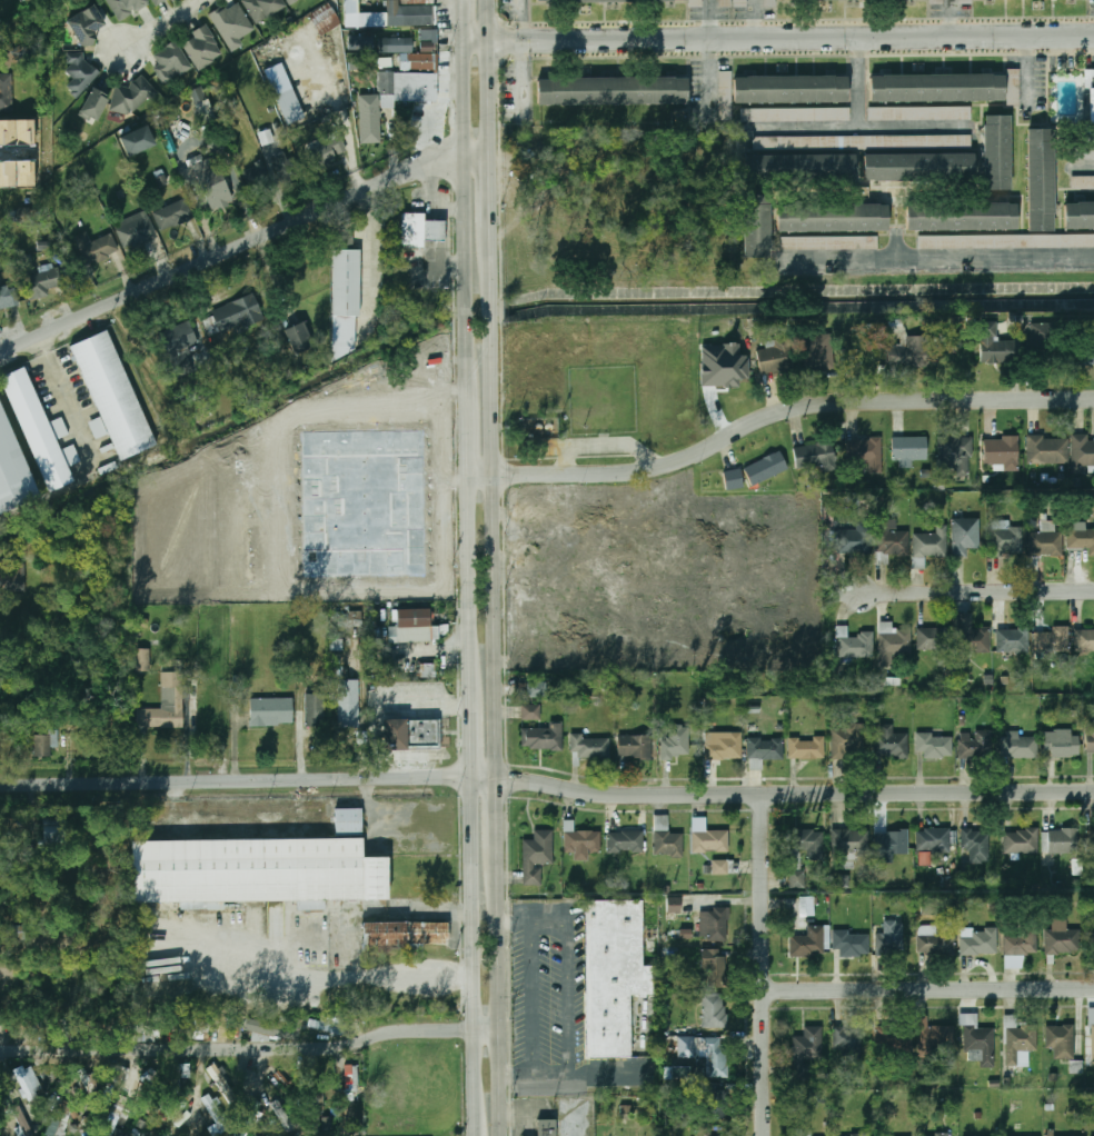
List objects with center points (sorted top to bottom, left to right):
building: (586, 0)
building: (290, 1)
building: (696, 1)
building: (965, 1)
building: (770, 2)
building: (725, 3)
building: (126, 7)
building: (262, 8)
building: (409, 13)
building: (325, 19)
road: (709, 19)
road: (755, 19)
road: (463, 20)
building: (232, 23)
building: (86, 26)
road: (162, 26)
road: (778, 38)
building: (360, 42)
building: (202, 48)
building: (171, 62)
road: (490, 71)
building: (80, 74)
building: (400, 80)
building: (724, 86)
building: (1013, 87)
building: (937, 88)
building: (790, 89)
building: (613, 90)
building: (285, 93)
building: (198, 94)
building: (132, 96)
building: (1090, 102)
building: (4, 103)
building: (95, 103)
building: (919, 113)
building: (796, 114)
road: (862, 126)
road: (810, 127)
building: (136, 140)
building: (949, 140)
road: (9, 152)
building: (326, 152)
building: (997, 152)
building: (1086, 153)
road: (1085, 165)
building: (799, 167)
building: (918, 167)
building: (288, 168)
building: (257, 178)
building: (1041, 180)
building: (1083, 182)
building: (215, 187)
road: (491, 192)
road: (457, 209)
road: (467, 211)
building: (172, 215)
building: (1080, 215)
building: (962, 216)
building: (833, 218)
road: (447, 220)
building: (756, 226)
building: (419, 229)
building: (136, 230)
building: (344, 240)
building: (1005, 241)
building: (829, 242)
road: (243, 243)
building: (97, 248)
road: (962, 252)
road: (372, 256)
building: (43, 282)
building: (346, 296)
building: (8, 297)
building: (236, 313)
building: (181, 336)
building: (298, 338)
building: (1042, 342)
building: (994, 347)
building: (817, 350)
building: (911, 351)
building: (1083, 353)
building: (776, 357)
building: (728, 372)
building: (113, 396)
road: (775, 412)
building: (37, 429)
road: (467, 429)
road: (608, 439)
building: (909, 448)
building: (1047, 449)
building: (865, 451)
building: (1002, 452)
building: (1082, 454)
building: (956, 455)
building: (816, 456)
road: (567, 457)
building: (766, 468)
building: (12, 472)
building: (734, 479)
road: (497, 508)
building: (964, 535)
building: (1080, 537)
building: (891, 538)
building: (1006, 538)
building: (854, 540)
building: (931, 542)
building: (1045, 542)
road: (469, 575)
building: (12, 577)
road: (975, 590)
building: (411, 626)
building: (972, 635)
building: (894, 639)
building: (934, 639)
building: (1013, 639)
building: (1053, 639)
building: (1085, 639)
building: (855, 642)
building: (141, 659)
building: (428, 670)
building: (531, 690)
building: (165, 705)
building: (348, 705)
building: (316, 709)
building: (271, 711)
building: (530, 711)
road: (473, 724)
building: (410, 735)
building: (545, 737)
building: (1090, 739)
building: (676, 740)
building: (847, 740)
building: (891, 744)
building: (976, 744)
building: (1062, 744)
building: (42, 745)
building: (591, 746)
building: (634, 746)
building: (935, 746)
building: (1018, 746)
building: (720, 748)
building: (766, 748)
building: (806, 748)
road: (250, 777)
road: (796, 793)
road: (500, 818)
building: (349, 820)
building: (54, 836)
building: (668, 837)
building: (933, 839)
building: (1092, 839)
building: (1062, 840)
building: (581, 841)
building: (627, 841)
building: (710, 841)
building: (892, 841)
building: (1023, 841)
building: (977, 843)
building: (851, 844)
building: (803, 851)
building: (537, 856)
building: (720, 867)
building: (256, 874)
building: (674, 905)
building: (806, 906)
building: (715, 924)
building: (402, 936)
building: (892, 936)
building: (1061, 938)
building: (809, 941)
building: (851, 941)
building: (934, 941)
building: (1021, 941)
building: (979, 943)
building: (1091, 943)
road: (286, 946)
road: (475, 949)
road: (764, 965)
building: (714, 968)
building: (615, 969)
road: (929, 987)
parking lot: (550, 990)
road: (570, 994)
road: (533, 995)
road: (501, 998)
building: (714, 1010)
building: (265, 1026)
building: (150, 1032)
road: (488, 1032)
building: (1092, 1036)
building: (934, 1037)
building: (894, 1038)
building: (1061, 1040)
building: (848, 1042)
building: (981, 1042)
building: (1018, 1042)
road: (239, 1049)
building: (806, 1052)
building: (709, 1057)
building: (677, 1073)
building: (86, 1078)
building: (350, 1078)
building: (219, 1079)
building: (1024, 1079)
building: (113, 1080)
building: (28, 1082)
building: (717, 1106)
building: (215, 1112)
building: (246, 1117)
building: (58, 1118)
building: (548, 1124)
road: (477, 1130)
building: (802, 1132)
building: (531, 1134)
building: (856, 1134)
building: (934, 1135)
building: (1082, 1135)

